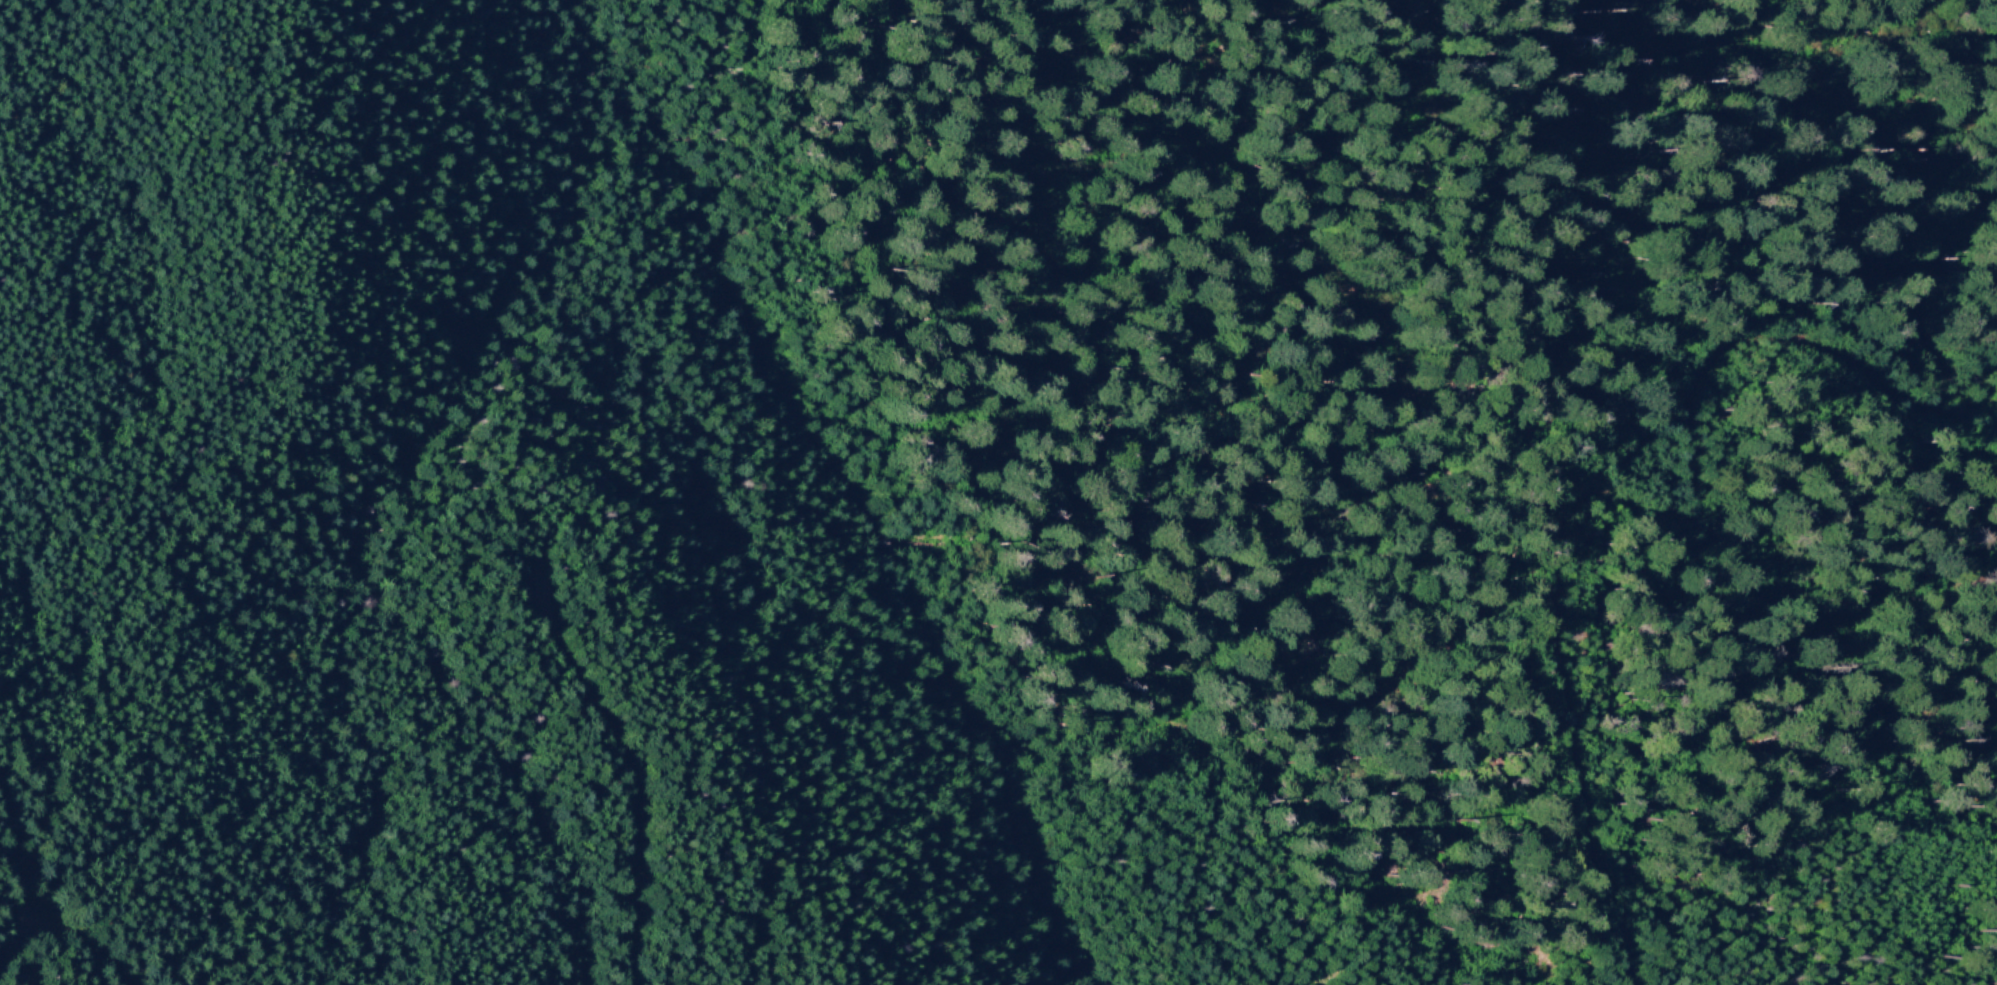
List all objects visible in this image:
road: (1616, 547)

